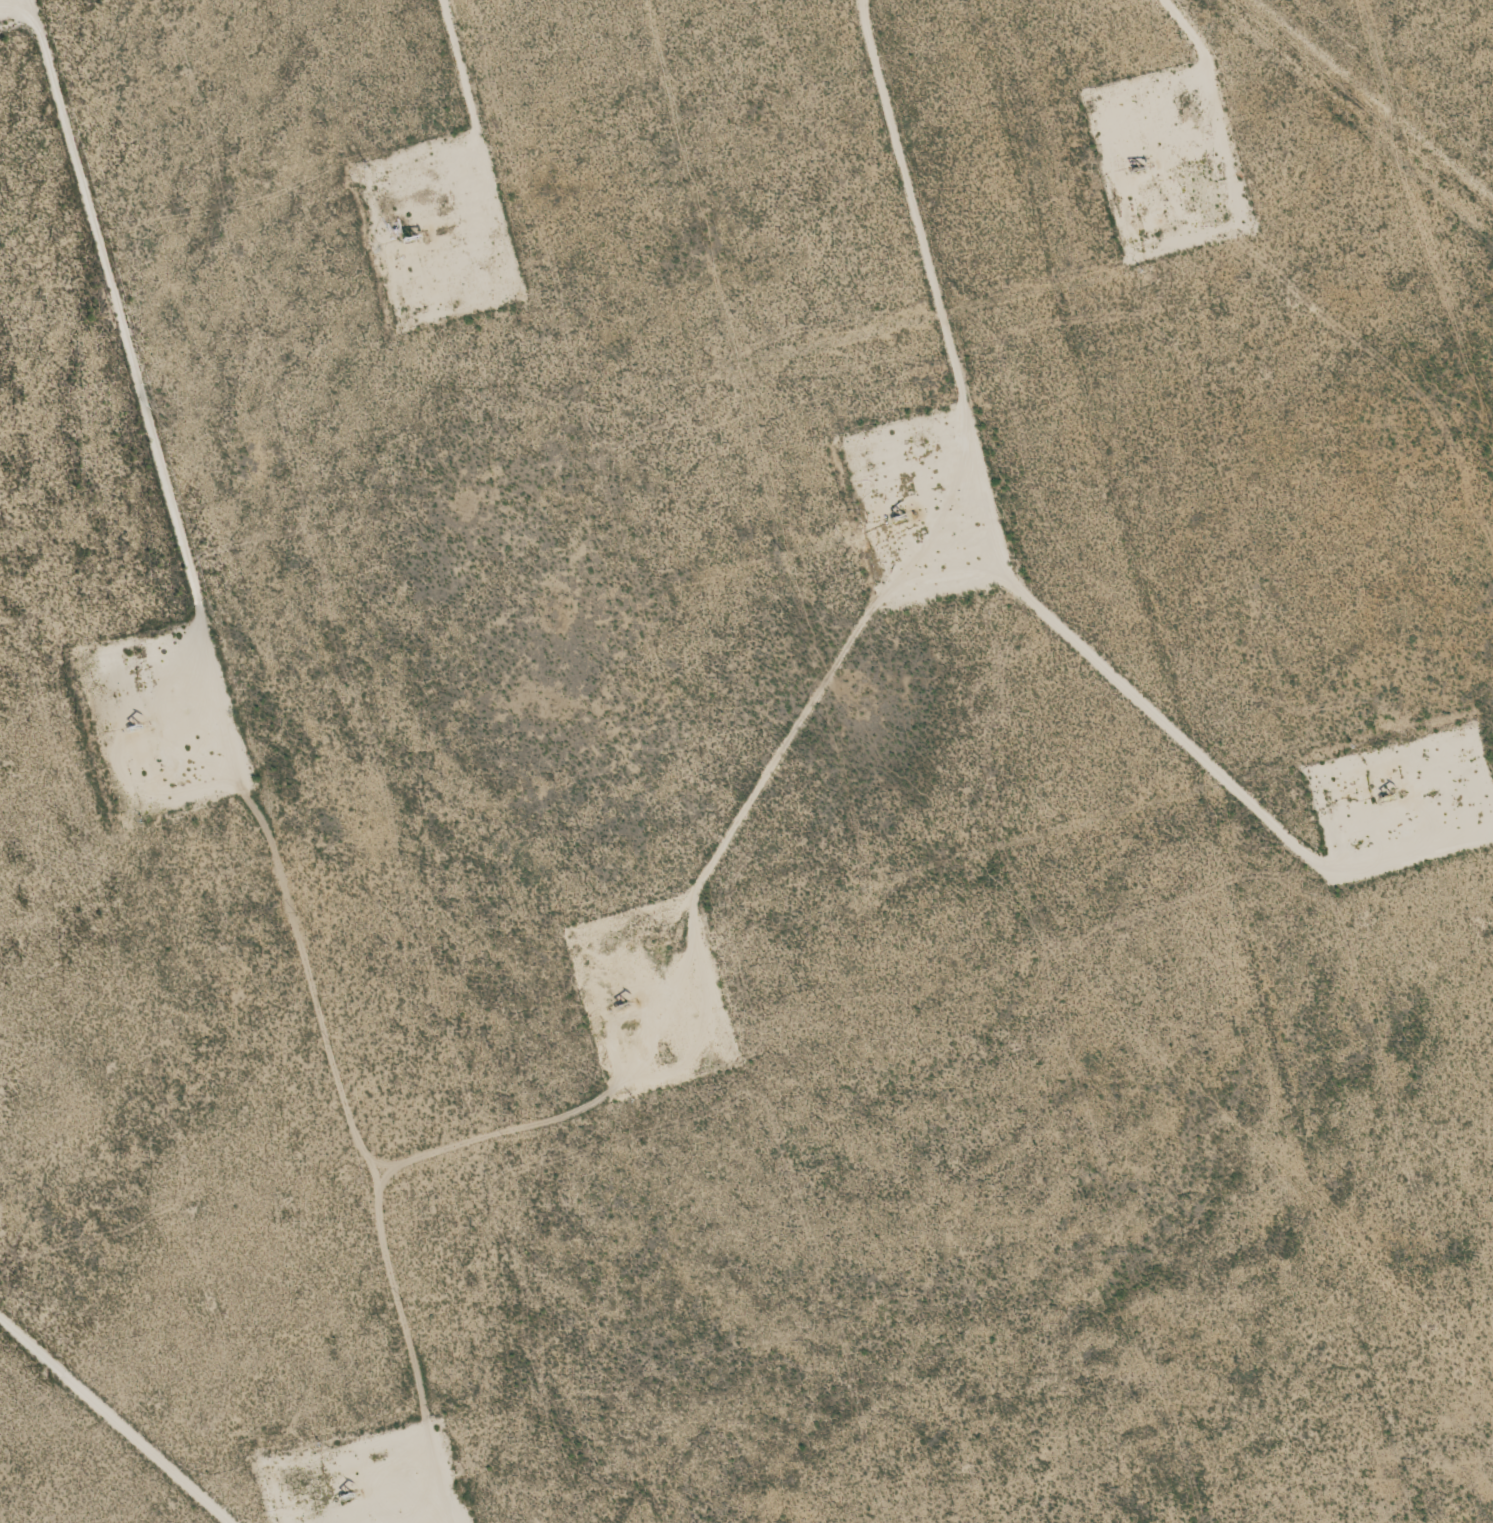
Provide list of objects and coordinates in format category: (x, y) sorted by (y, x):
road: (988, 497)
road: (822, 695)
road: (121, 1417)

